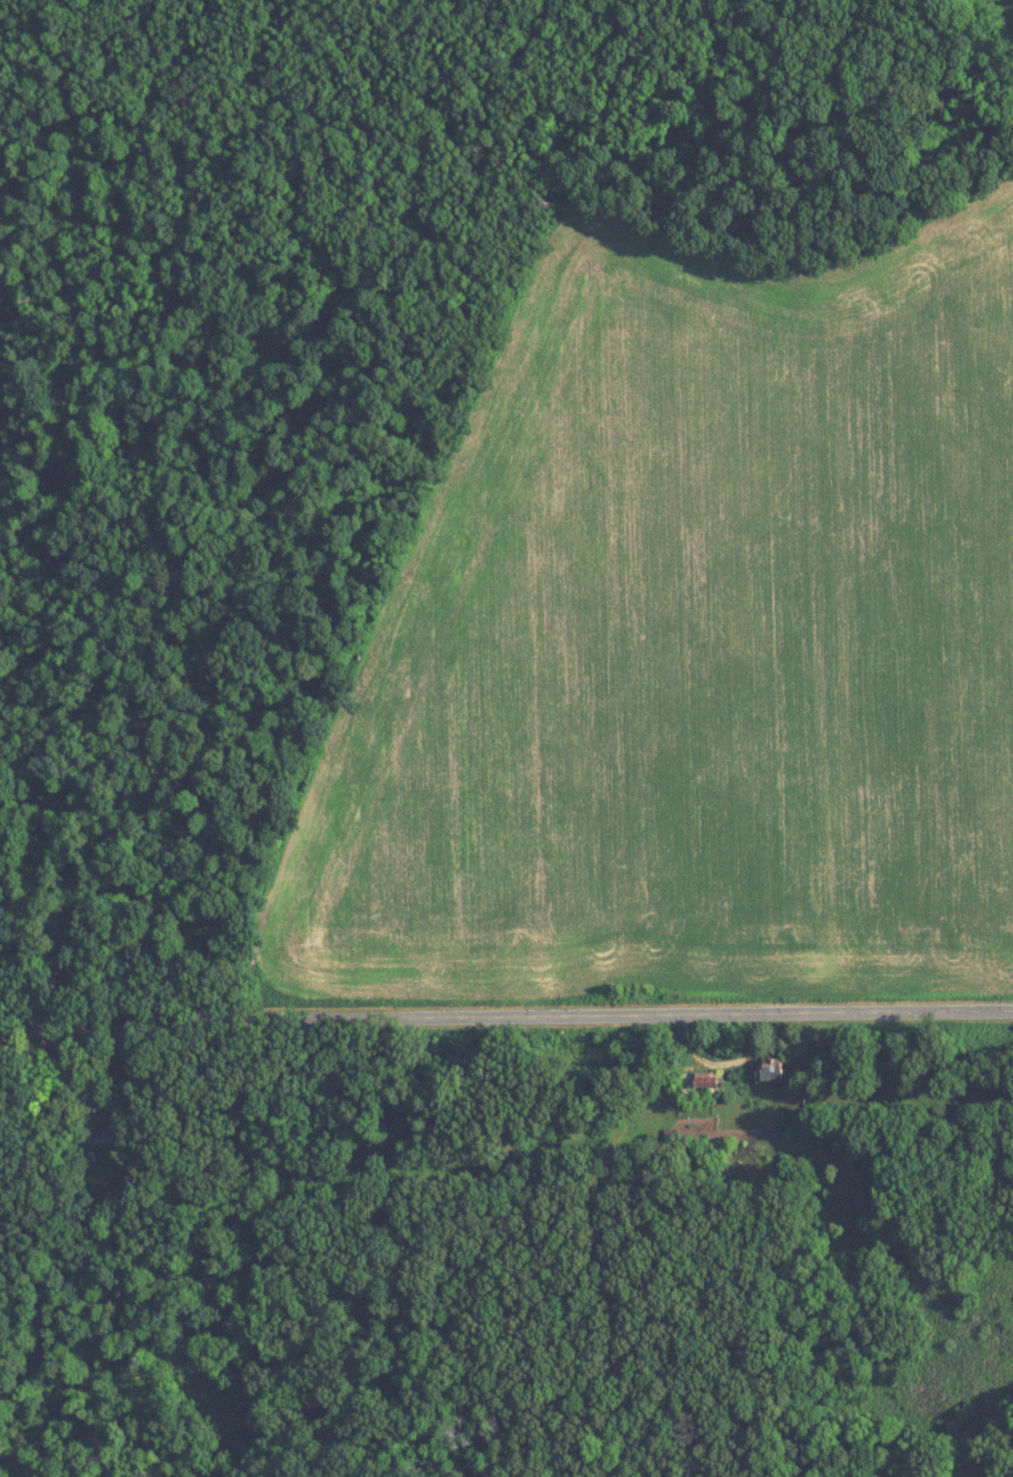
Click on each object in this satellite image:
road: (506, 1018)
building: (773, 1070)
building: (708, 1080)
building: (109, 1135)
road: (604, 1236)

